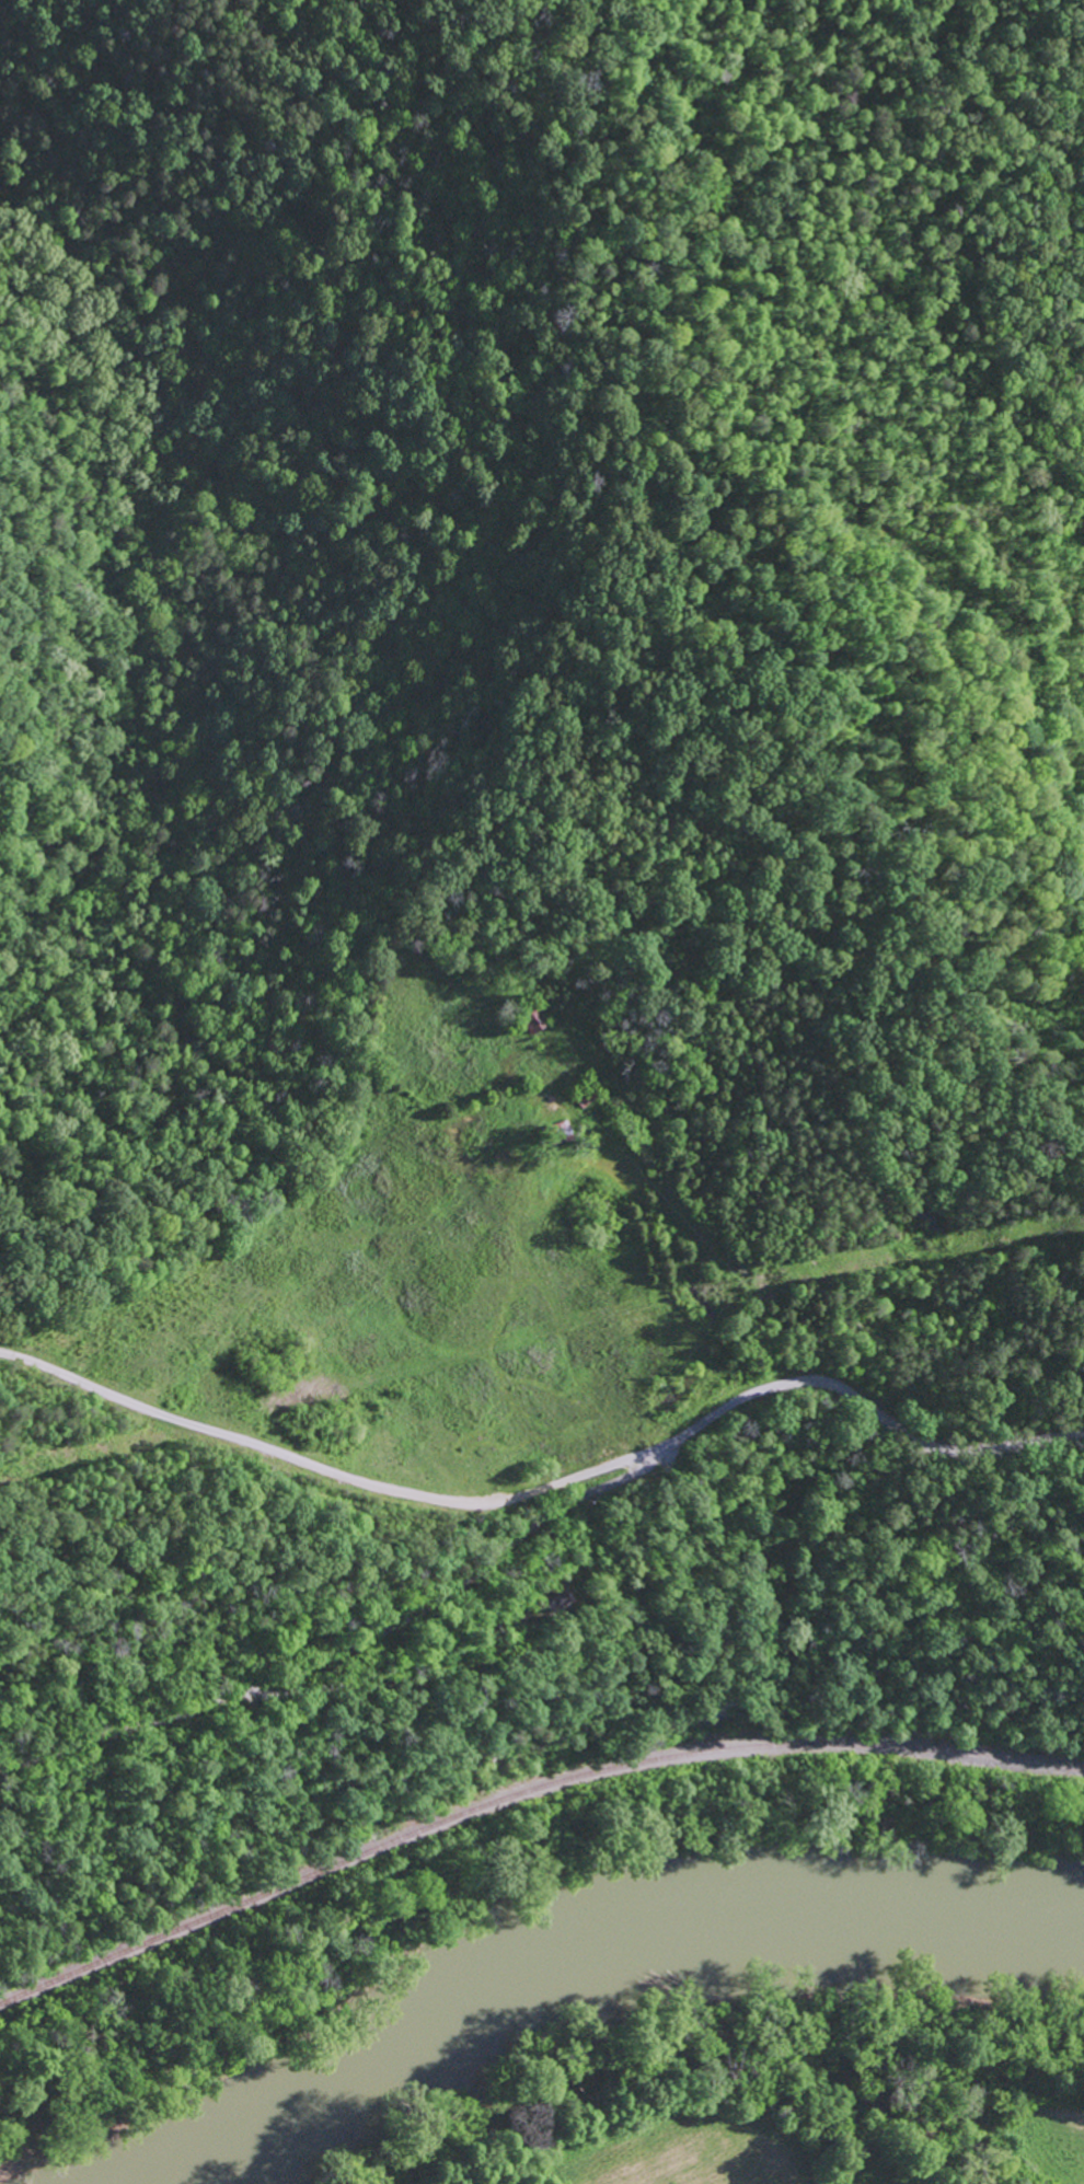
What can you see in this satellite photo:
road: (337, 1475)
road: (539, 1519)
building: (555, 1597)
railway: (524, 1791)
river: (587, 1952)

